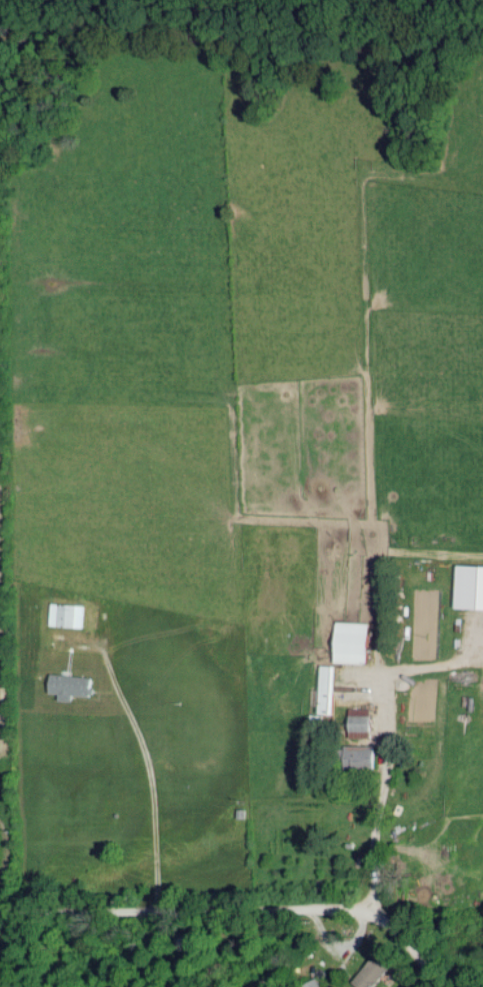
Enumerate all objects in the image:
building: (466, 585)
building: (66, 614)
building: (344, 641)
building: (70, 685)
building: (320, 688)
building: (353, 721)
building: (353, 755)
road: (186, 907)
road: (409, 947)
building: (363, 973)
building: (306, 983)
building: (482, 986)

